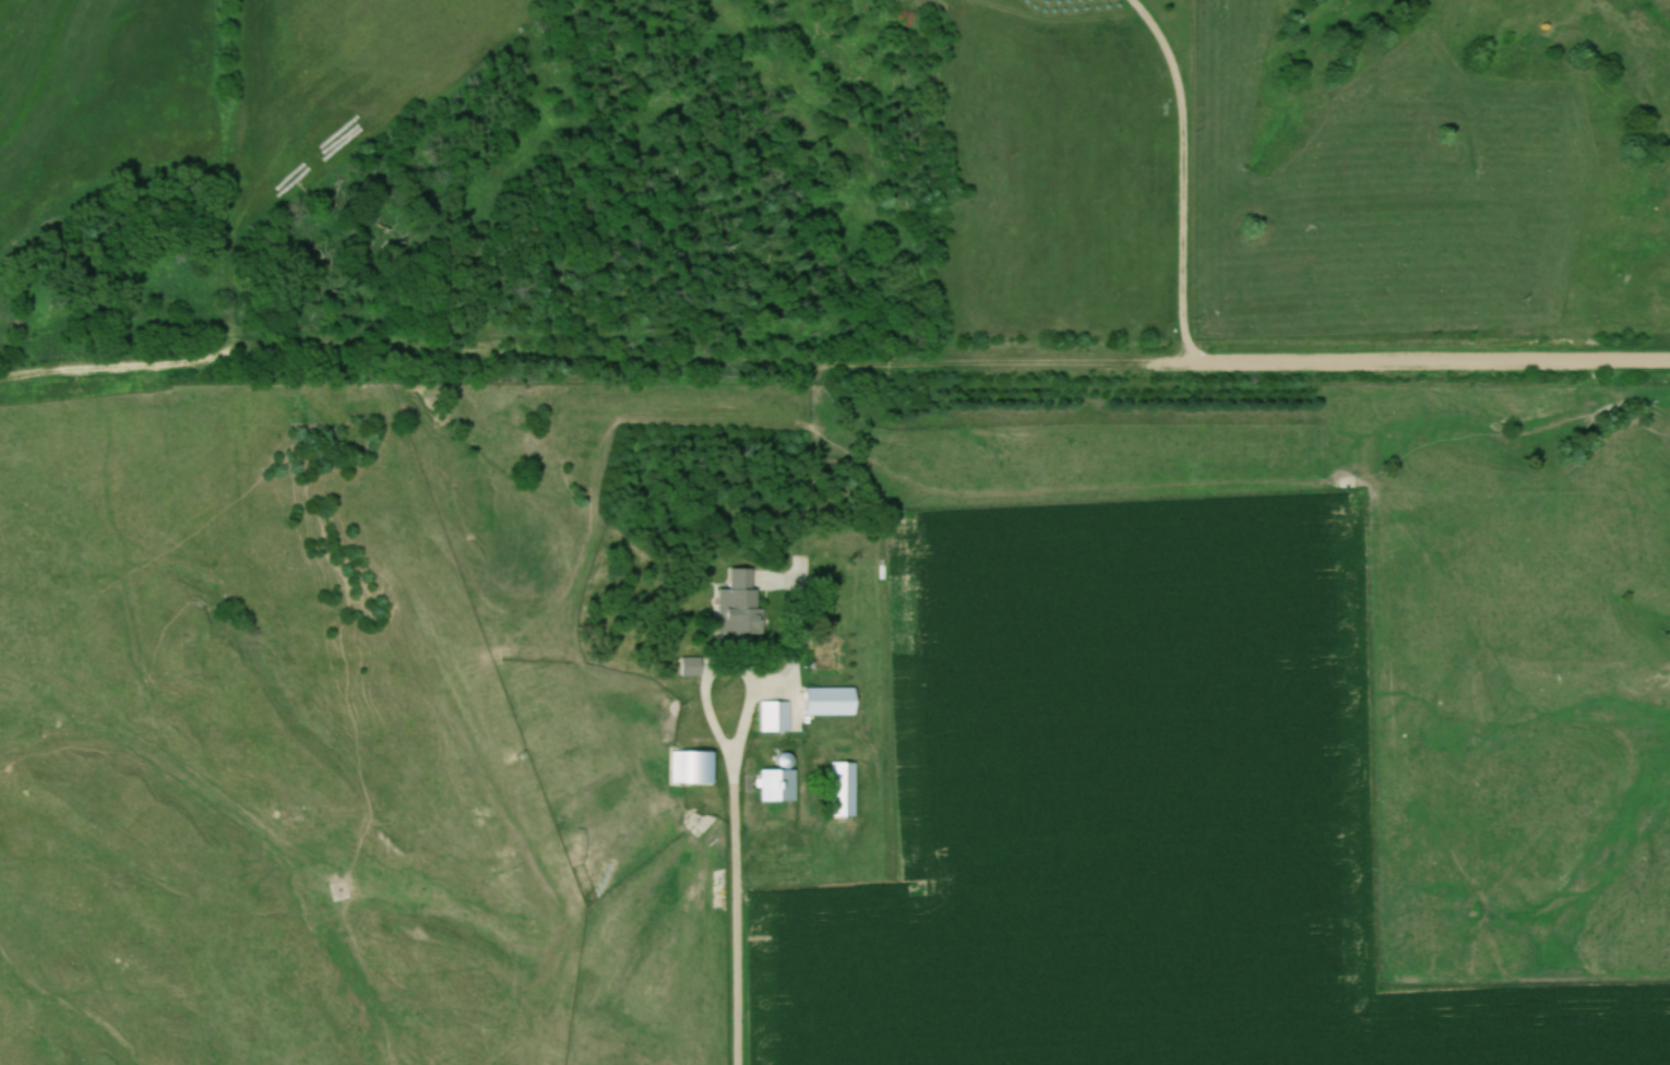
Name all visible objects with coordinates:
road: (833, 364)
road: (803, 575)
building: (740, 602)
building: (692, 668)
building: (832, 702)
building: (775, 718)
building: (693, 769)
building: (777, 787)
building: (844, 791)
road: (736, 836)

